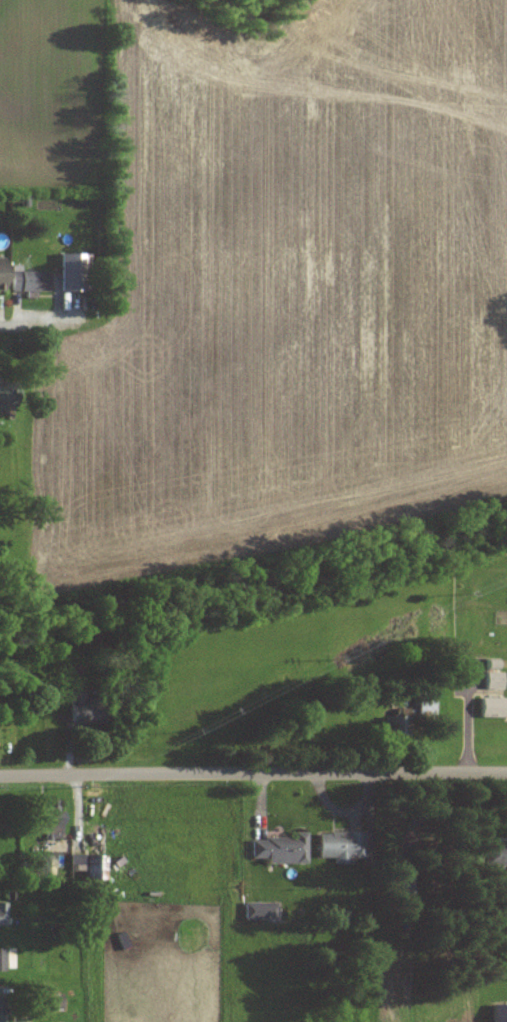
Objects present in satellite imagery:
building: (74, 271)
building: (2, 274)
building: (30, 279)
road: (9, 325)
building: (7, 393)
building: (493, 675)
building: (427, 704)
building: (493, 707)
building: (85, 708)
road: (468, 716)
building: (394, 726)
road: (69, 752)
road: (301, 769)
road: (48, 772)
road: (260, 799)
road: (77, 808)
road: (348, 811)
building: (48, 821)
building: (281, 847)
building: (342, 847)
building: (493, 856)
building: (86, 867)
building: (260, 910)
building: (3, 913)
building: (54, 1001)
building: (3, 1008)

